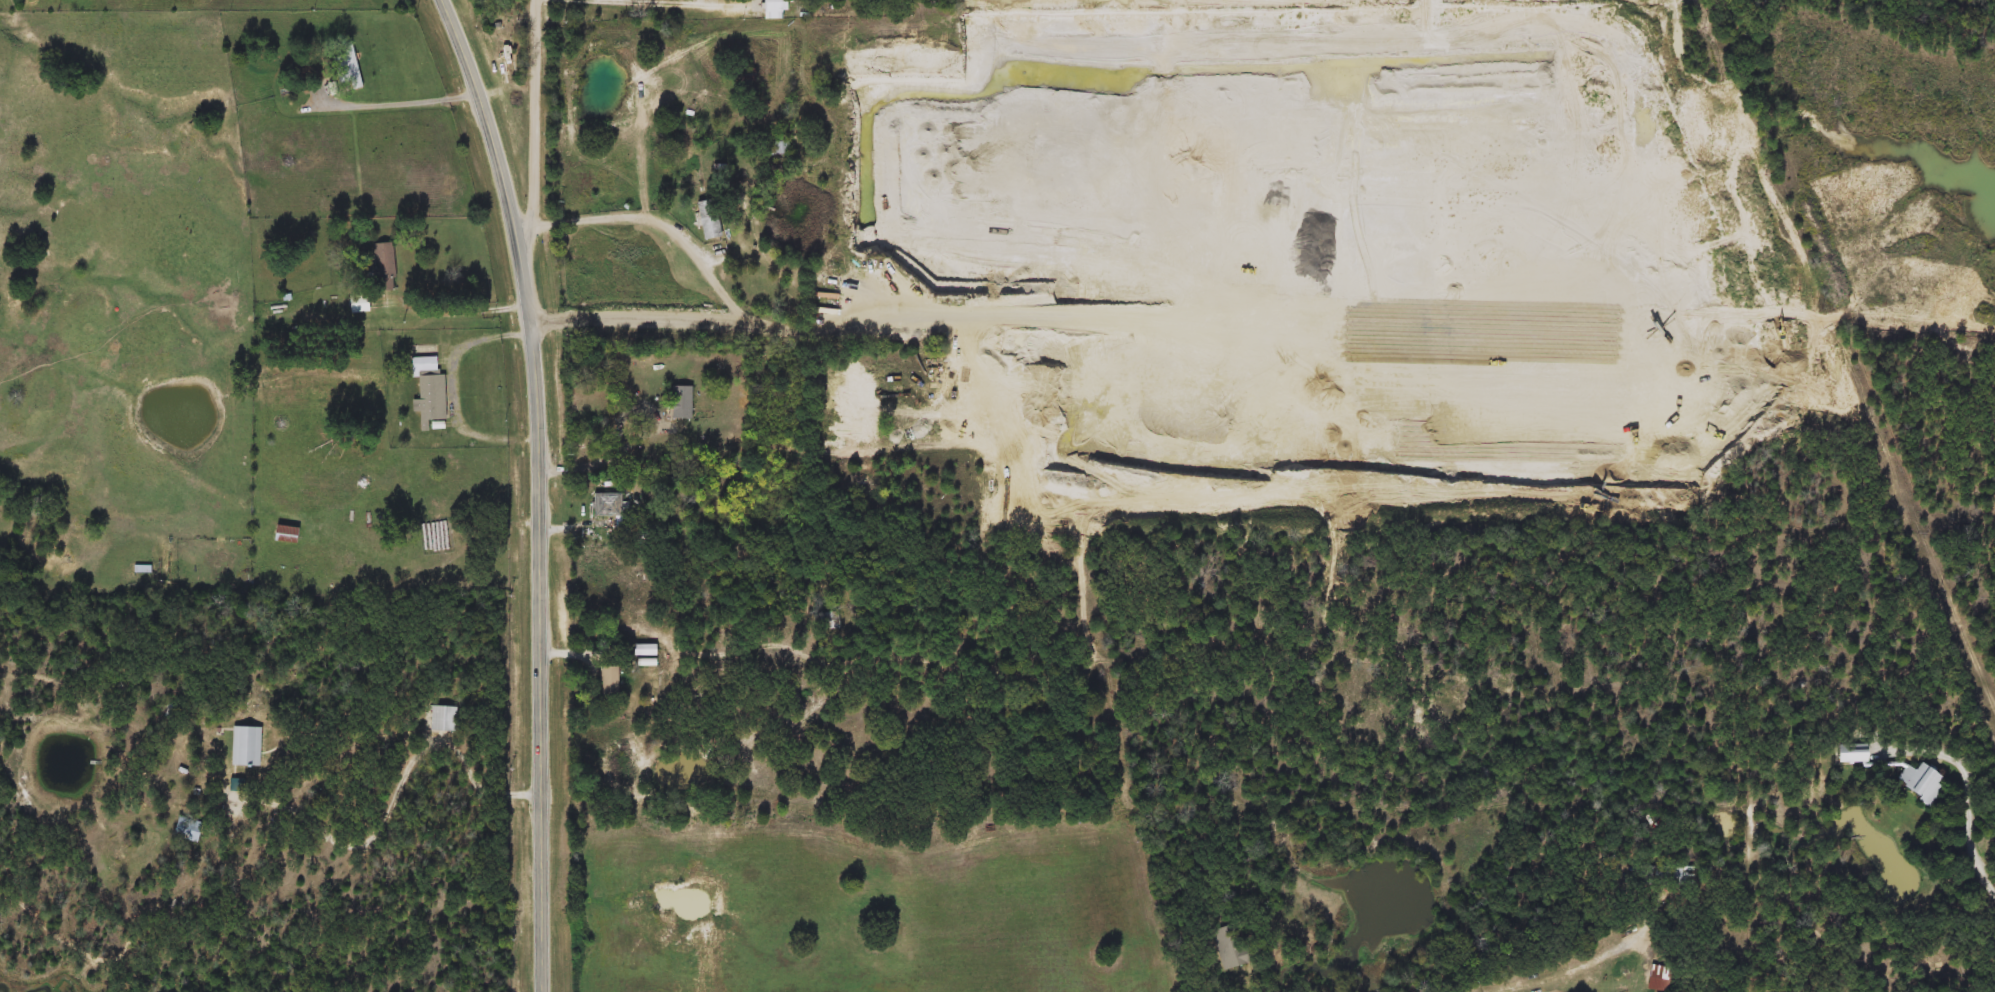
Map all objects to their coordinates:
road: (673, 1)
building: (772, 1)
building: (352, 64)
road: (400, 99)
building: (778, 148)
road: (533, 153)
building: (708, 219)
building: (384, 266)
road: (725, 295)
building: (358, 304)
road: (461, 309)
building: (1956, 319)
road: (456, 386)
building: (431, 402)
road: (605, 454)
road: (540, 489)
building: (608, 505)
building: (285, 534)
building: (141, 569)
building: (608, 681)
building: (441, 719)
building: (245, 746)
building: (1851, 754)
building: (1920, 784)
road: (401, 794)
road: (1971, 813)
building: (187, 829)
building: (1661, 876)
building: (1233, 946)
road: (1561, 974)

